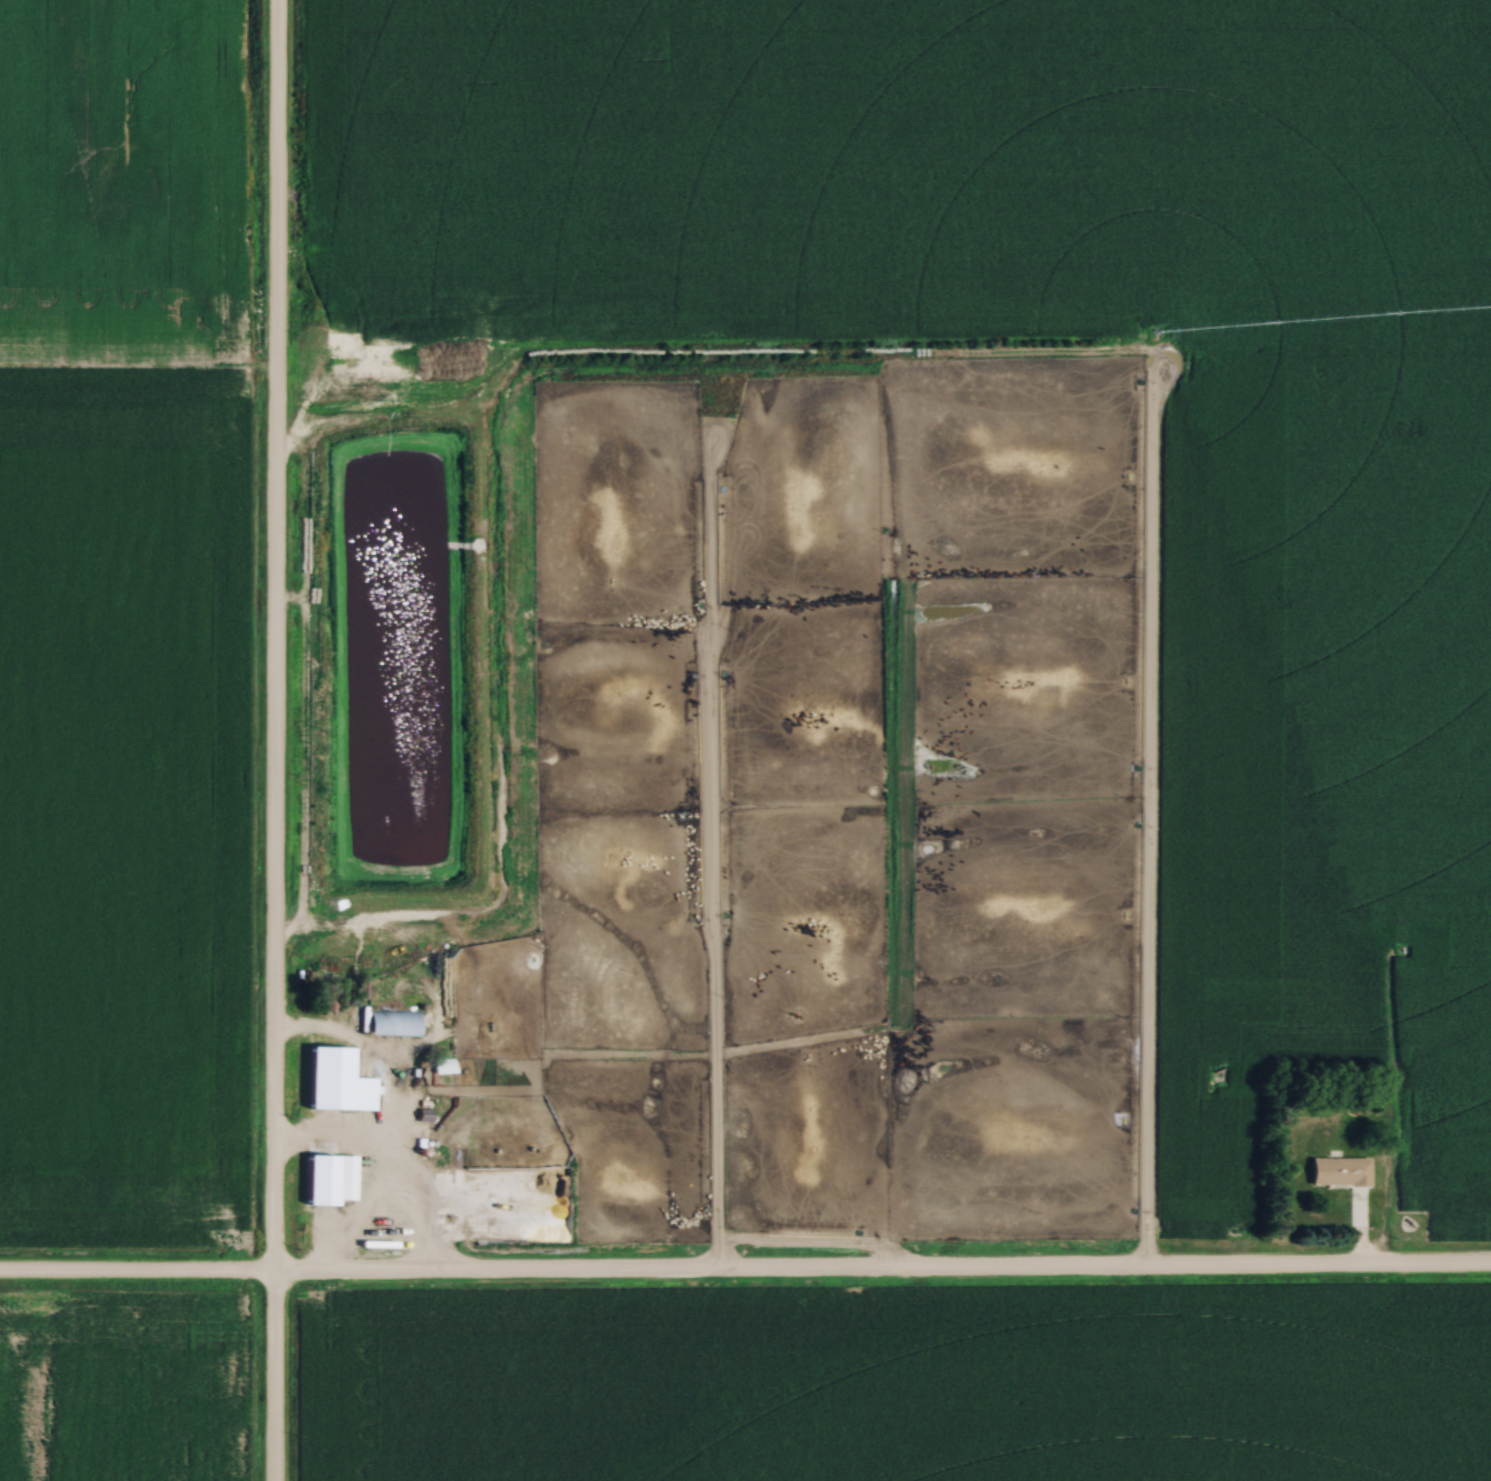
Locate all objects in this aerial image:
road: (274, 740)
building: (393, 1022)
building: (422, 1117)
road: (390, 1161)
building: (1339, 1172)
building: (329, 1180)
road: (745, 1274)

